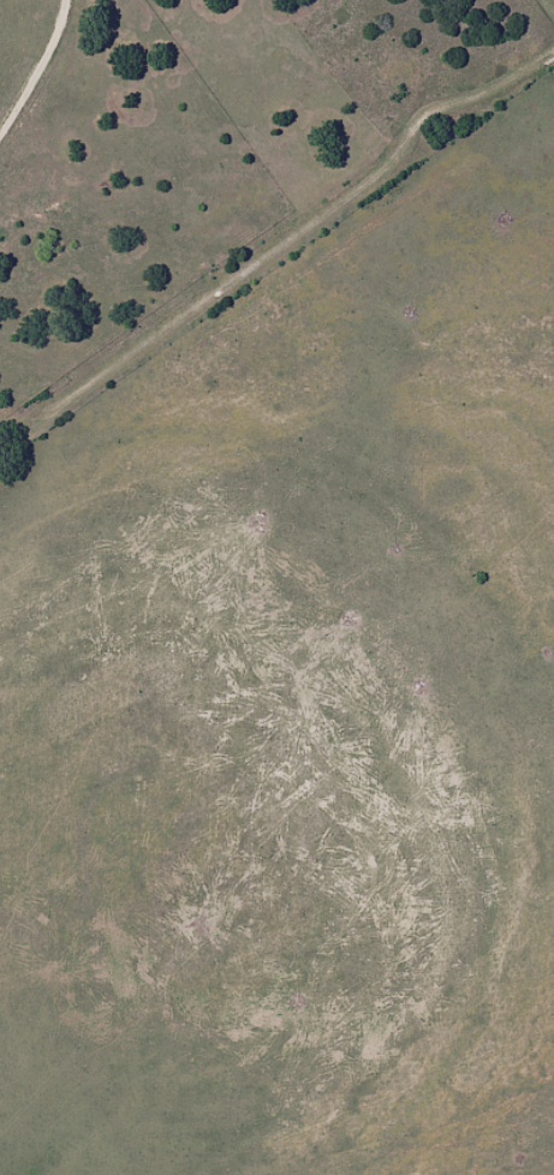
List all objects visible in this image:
road: (41, 72)

